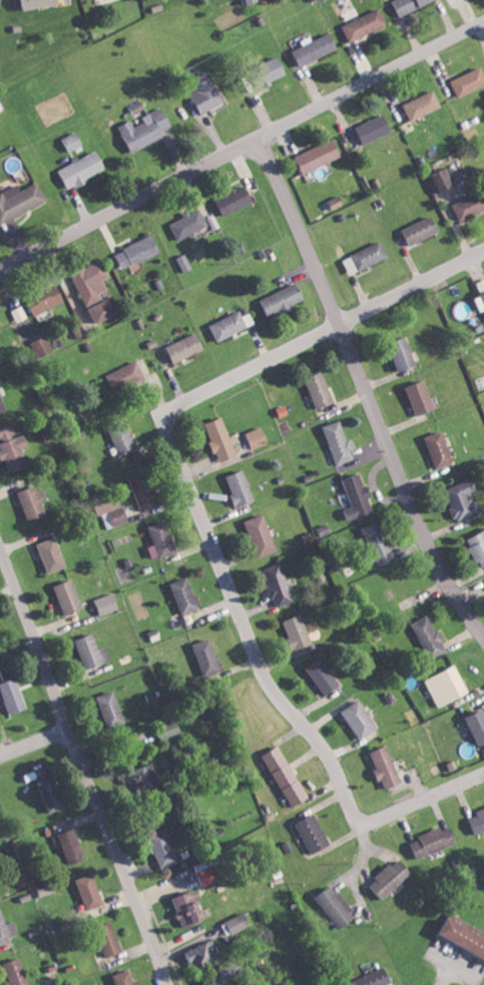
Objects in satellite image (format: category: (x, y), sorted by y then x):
building: (250, 1)
building: (2, 2)
building: (41, 3)
building: (410, 4)
building: (364, 24)
building: (316, 48)
building: (280, 65)
building: (468, 81)
building: (208, 97)
building: (423, 105)
building: (374, 128)
building: (148, 129)
building: (73, 141)
road: (242, 145)
building: (319, 155)
building: (83, 169)
building: (442, 181)
building: (235, 199)
building: (20, 201)
building: (469, 206)
building: (189, 224)
building: (420, 230)
building: (139, 251)
building: (366, 257)
building: (185, 262)
building: (91, 281)
building: (480, 286)
building: (283, 299)
building: (48, 300)
building: (480, 301)
building: (104, 310)
building: (21, 313)
building: (231, 324)
building: (1, 329)
building: (45, 346)
building: (186, 347)
building: (404, 358)
building: (127, 375)
building: (320, 390)
road: (364, 392)
building: (420, 398)
building: (2, 404)
building: (257, 437)
building: (123, 438)
building: (221, 439)
building: (340, 443)
building: (14, 448)
building: (438, 449)
road: (178, 466)
building: (241, 488)
building: (147, 491)
building: (357, 496)
building: (462, 500)
building: (35, 502)
building: (115, 515)
building: (260, 535)
building: (162, 540)
building: (379, 543)
building: (478, 547)
building: (53, 554)
building: (278, 585)
building: (185, 595)
building: (70, 597)
building: (108, 603)
building: (298, 632)
building: (429, 636)
building: (0, 638)
building: (93, 652)
building: (207, 656)
building: (323, 676)
building: (447, 686)
building: (16, 696)
building: (111, 707)
building: (359, 719)
building: (478, 726)
road: (34, 745)
building: (386, 767)
road: (82, 769)
building: (286, 776)
building: (141, 779)
building: (53, 794)
road: (423, 802)
building: (477, 820)
building: (314, 834)
building: (434, 841)
building: (73, 846)
building: (165, 849)
building: (209, 875)
building: (392, 878)
building: (89, 891)
building: (336, 906)
building: (190, 909)
building: (234, 923)
building: (7, 929)
building: (459, 934)
building: (109, 945)
building: (203, 955)
building: (229, 970)
building: (17, 972)
building: (126, 978)
building: (365, 979)
building: (222, 983)

